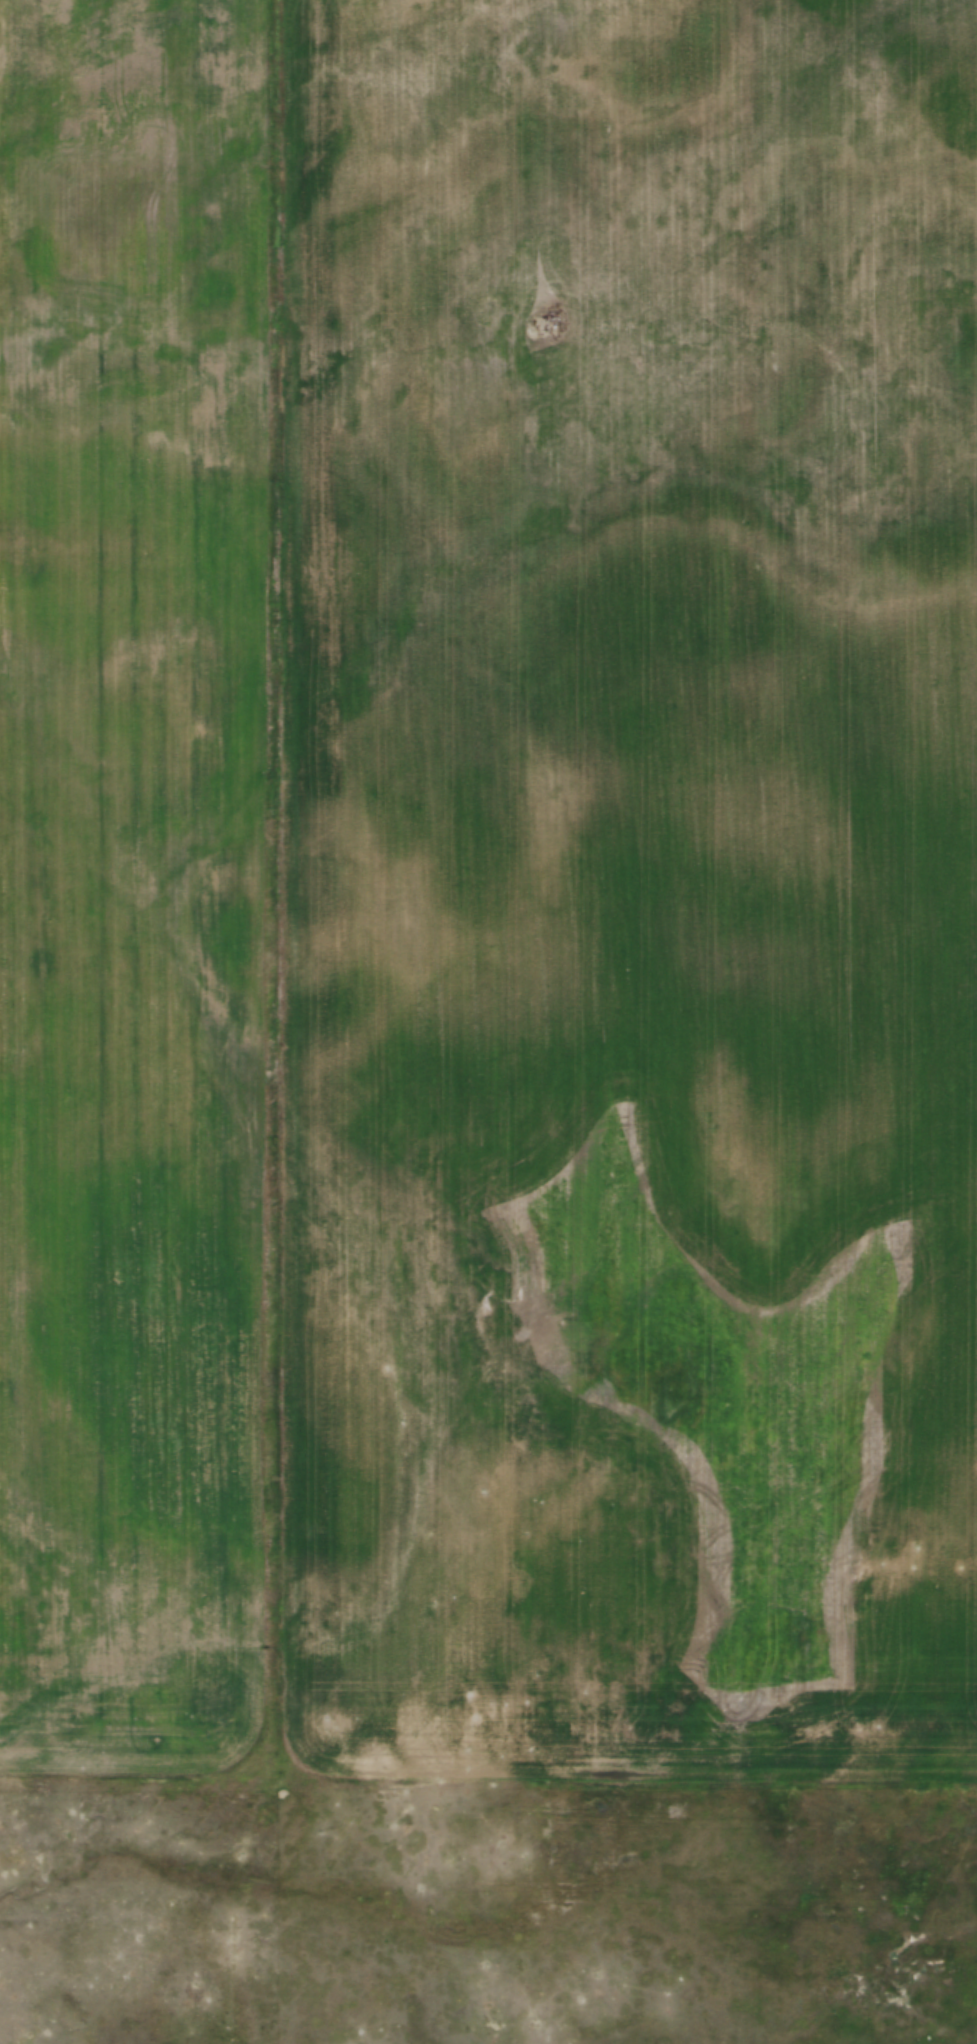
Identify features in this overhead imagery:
road: (488, 1782)

